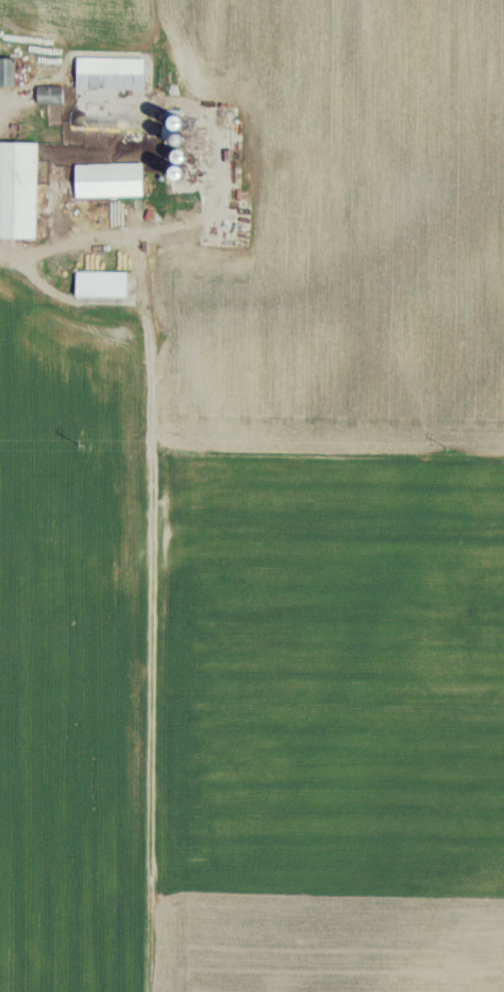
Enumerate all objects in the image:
building: (8, 70)
building: (113, 71)
building: (53, 94)
building: (221, 158)
building: (112, 178)
building: (20, 188)
road: (6, 251)
building: (104, 282)
road: (145, 284)

